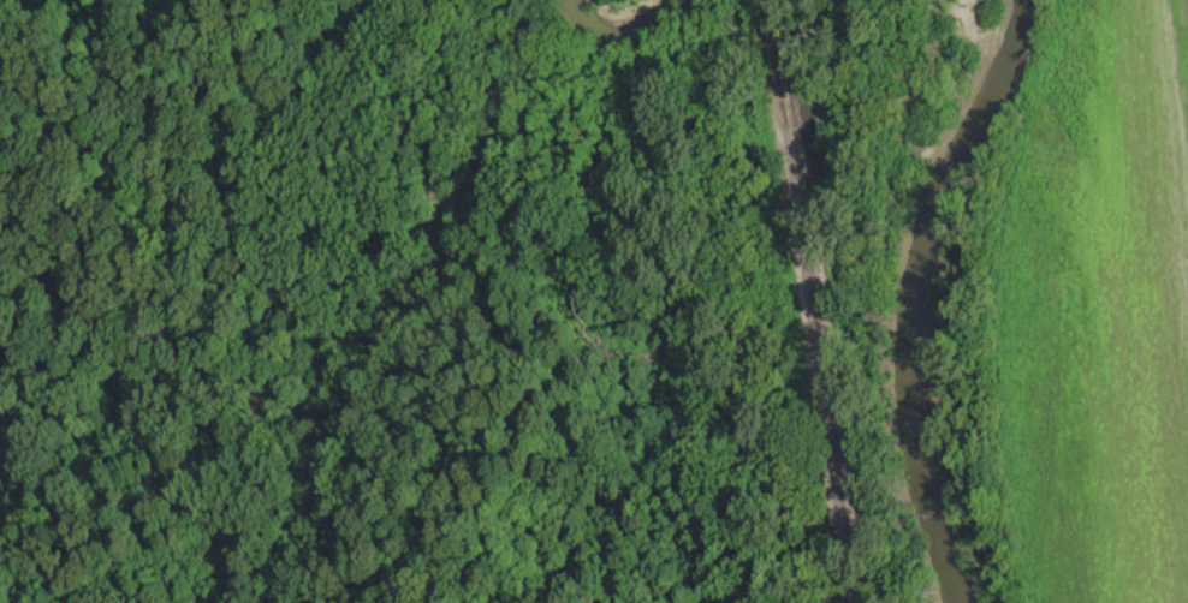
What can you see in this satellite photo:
railway: (815, 301)
crop: (1098, 309)

